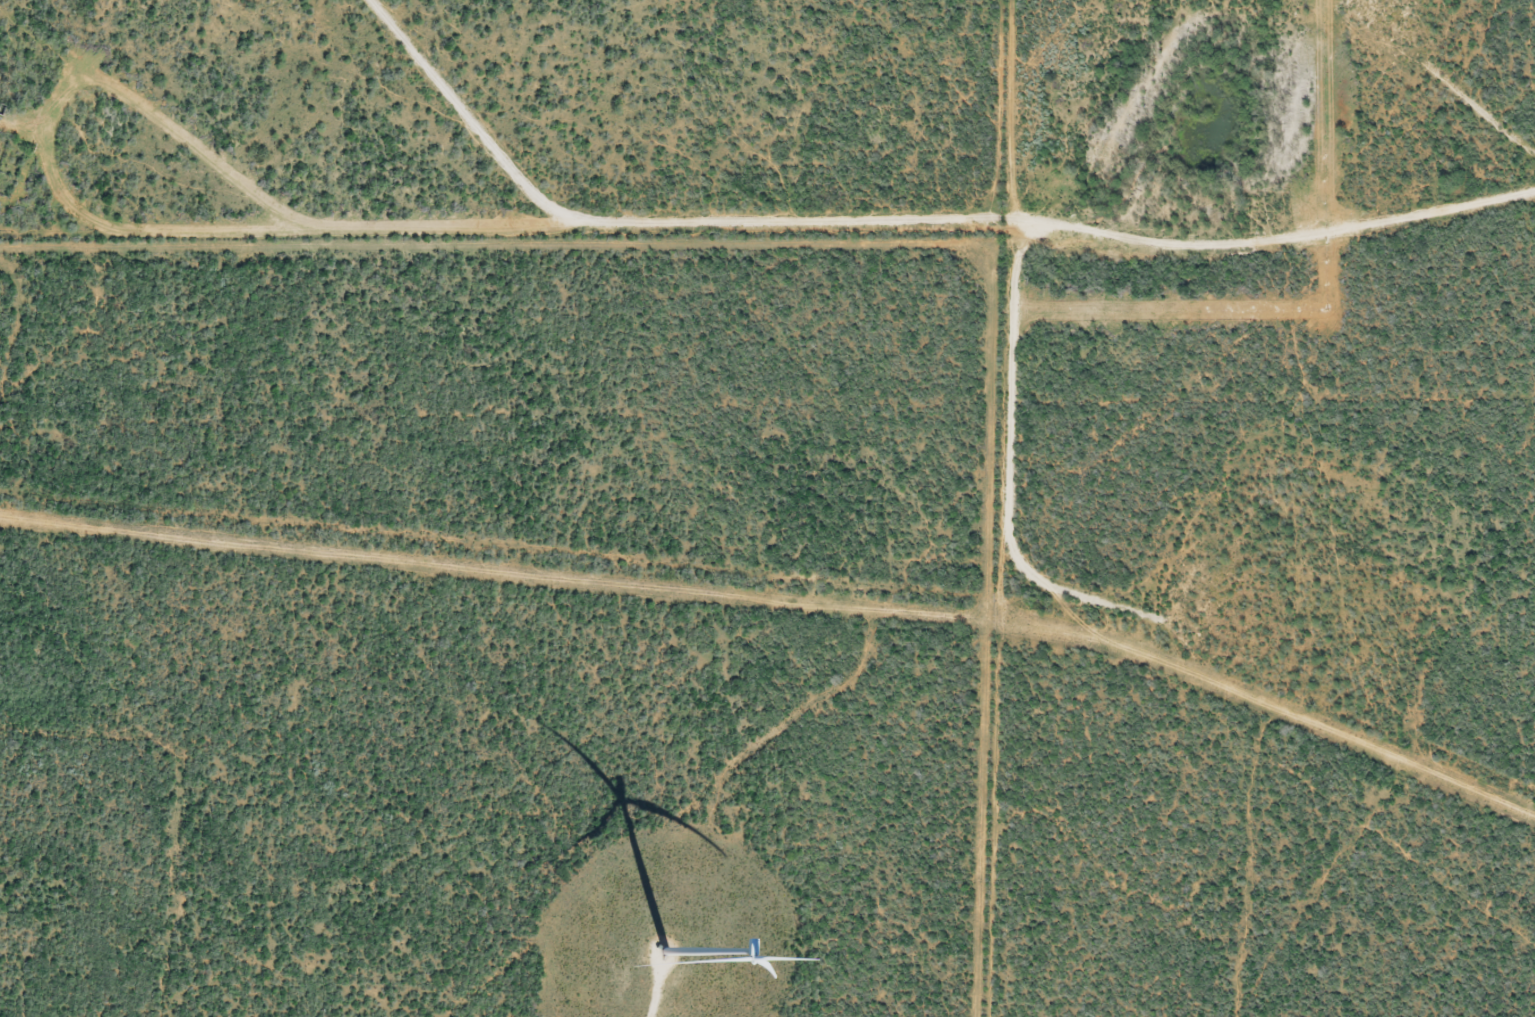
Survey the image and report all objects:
road: (715, 239)
road: (25, 369)
wind turbine: (655, 961)

